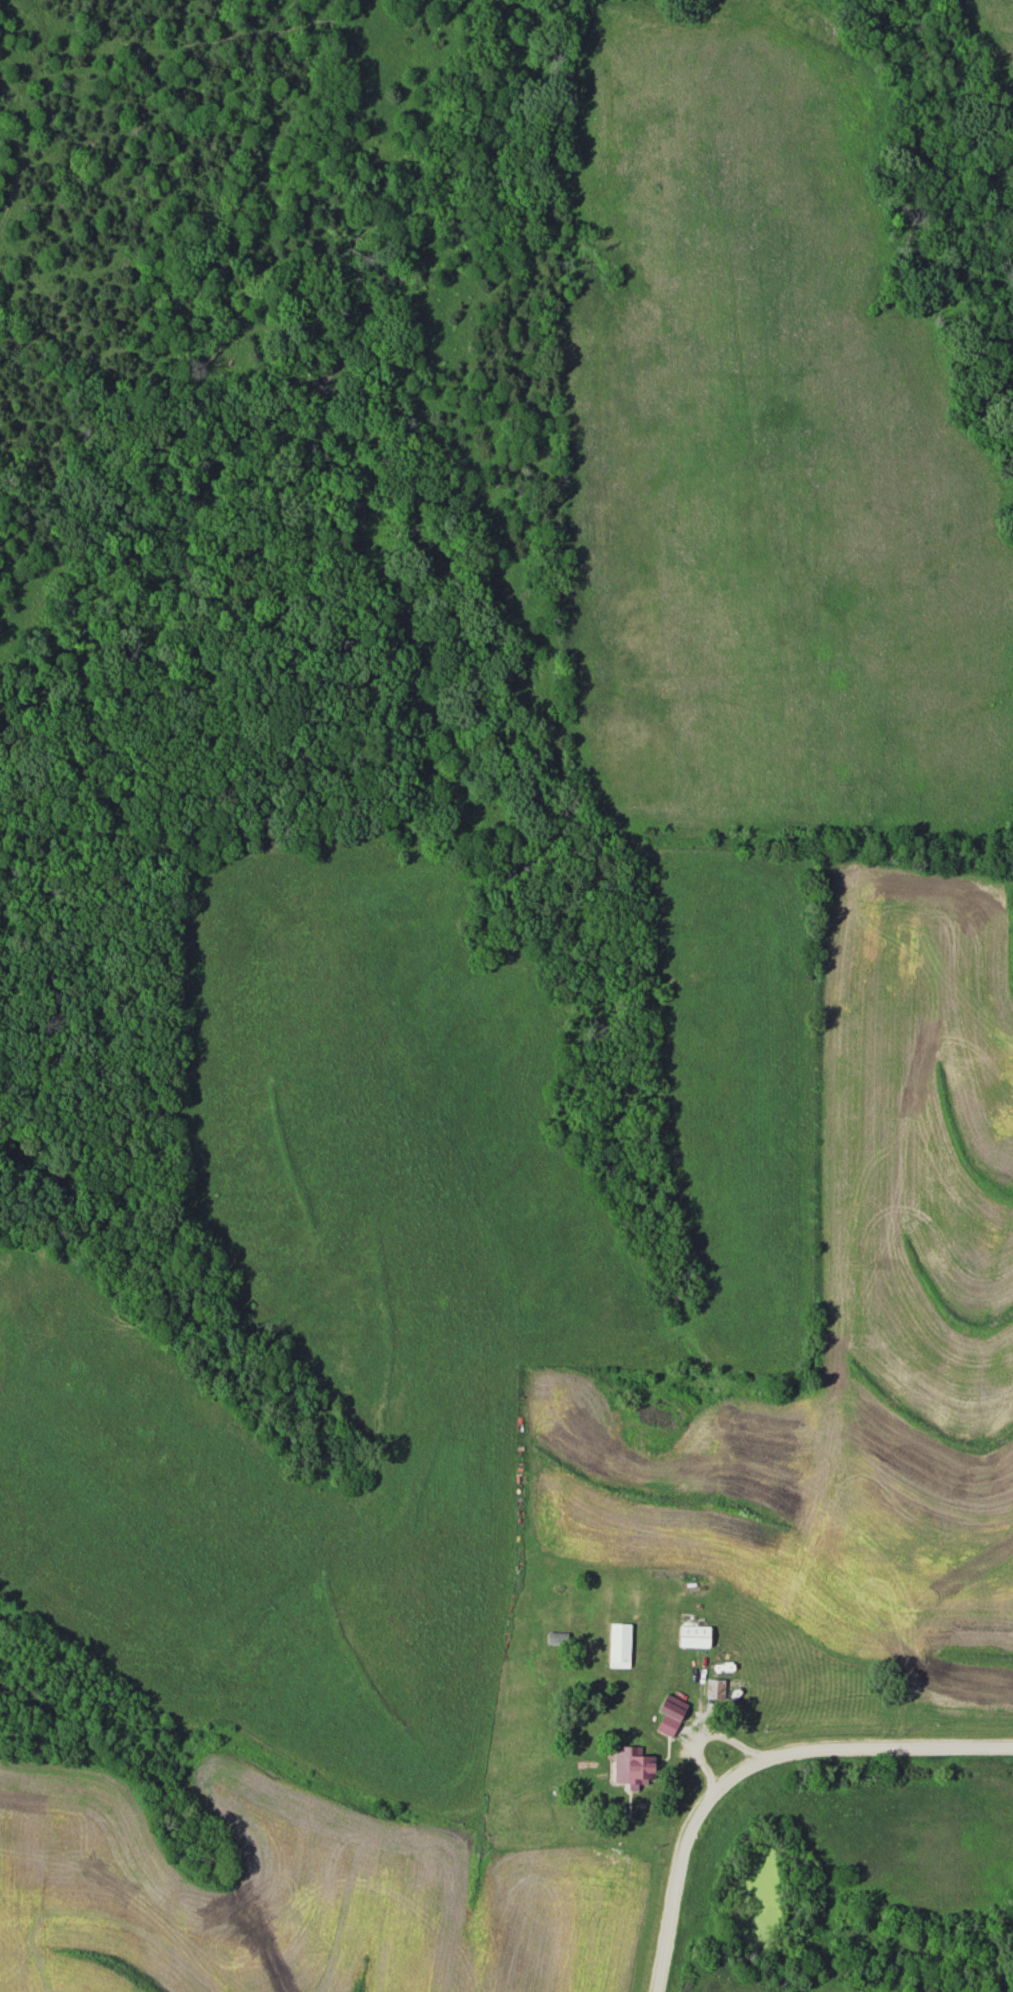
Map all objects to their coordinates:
road: (790, 1622)
building: (692, 1635)
building: (556, 1638)
building: (618, 1644)
building: (714, 1689)
building: (670, 1713)
road: (755, 1763)
building: (637, 1771)

